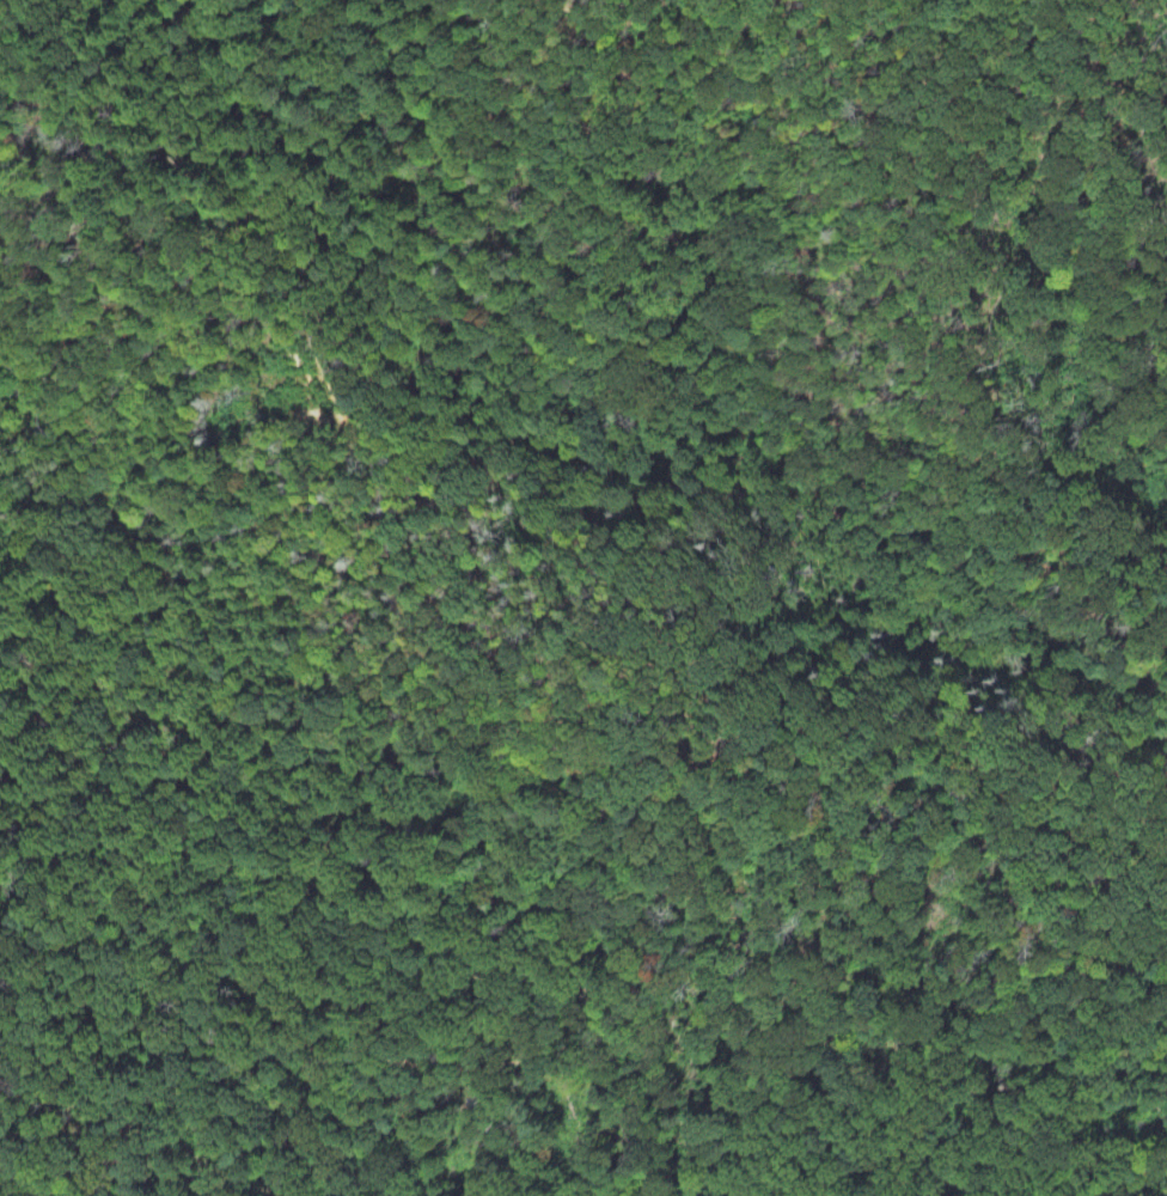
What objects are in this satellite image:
road: (572, 999)
road: (377, 1163)

